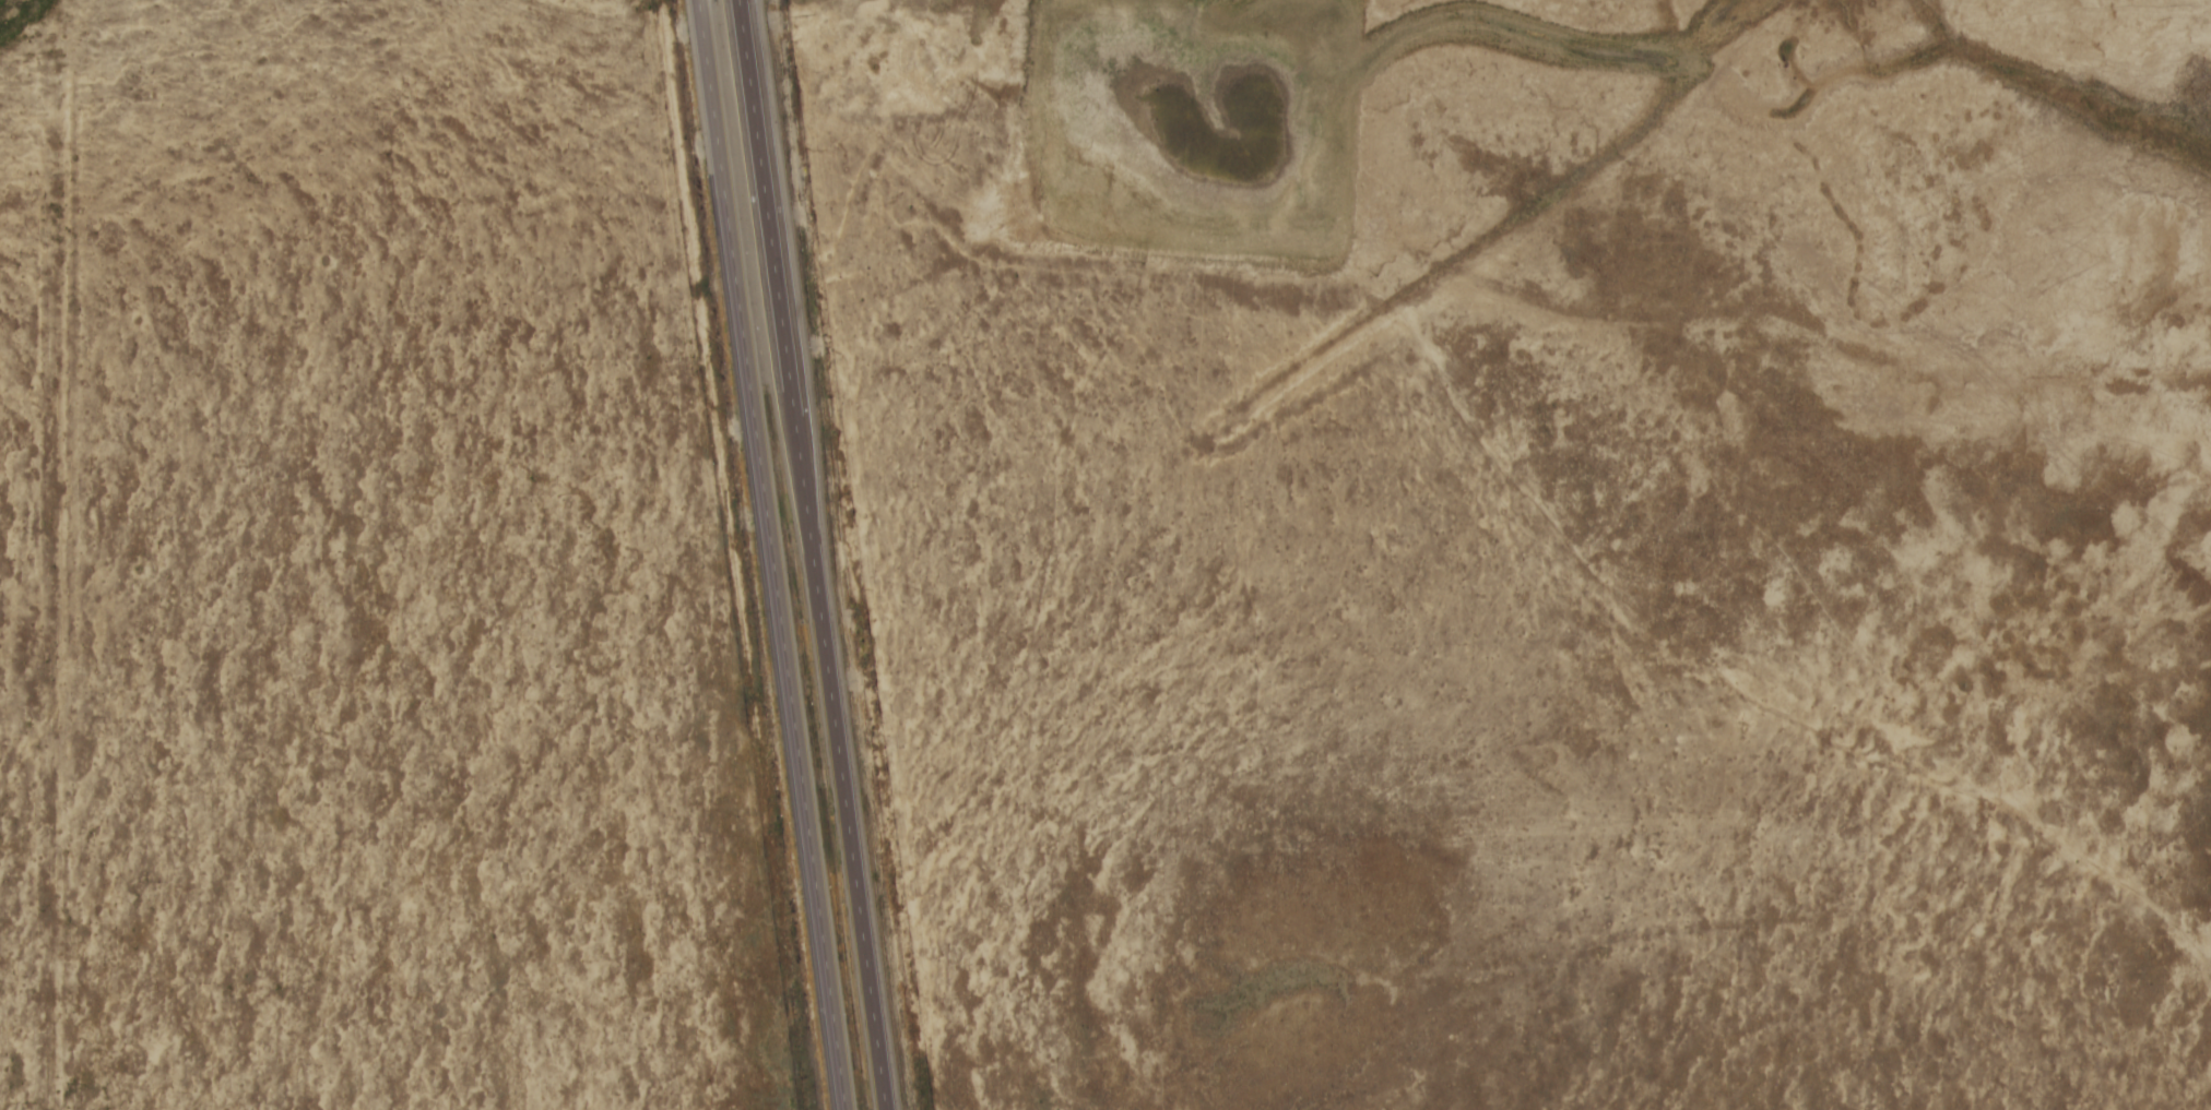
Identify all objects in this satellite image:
road: (769, 554)
road: (816, 554)

